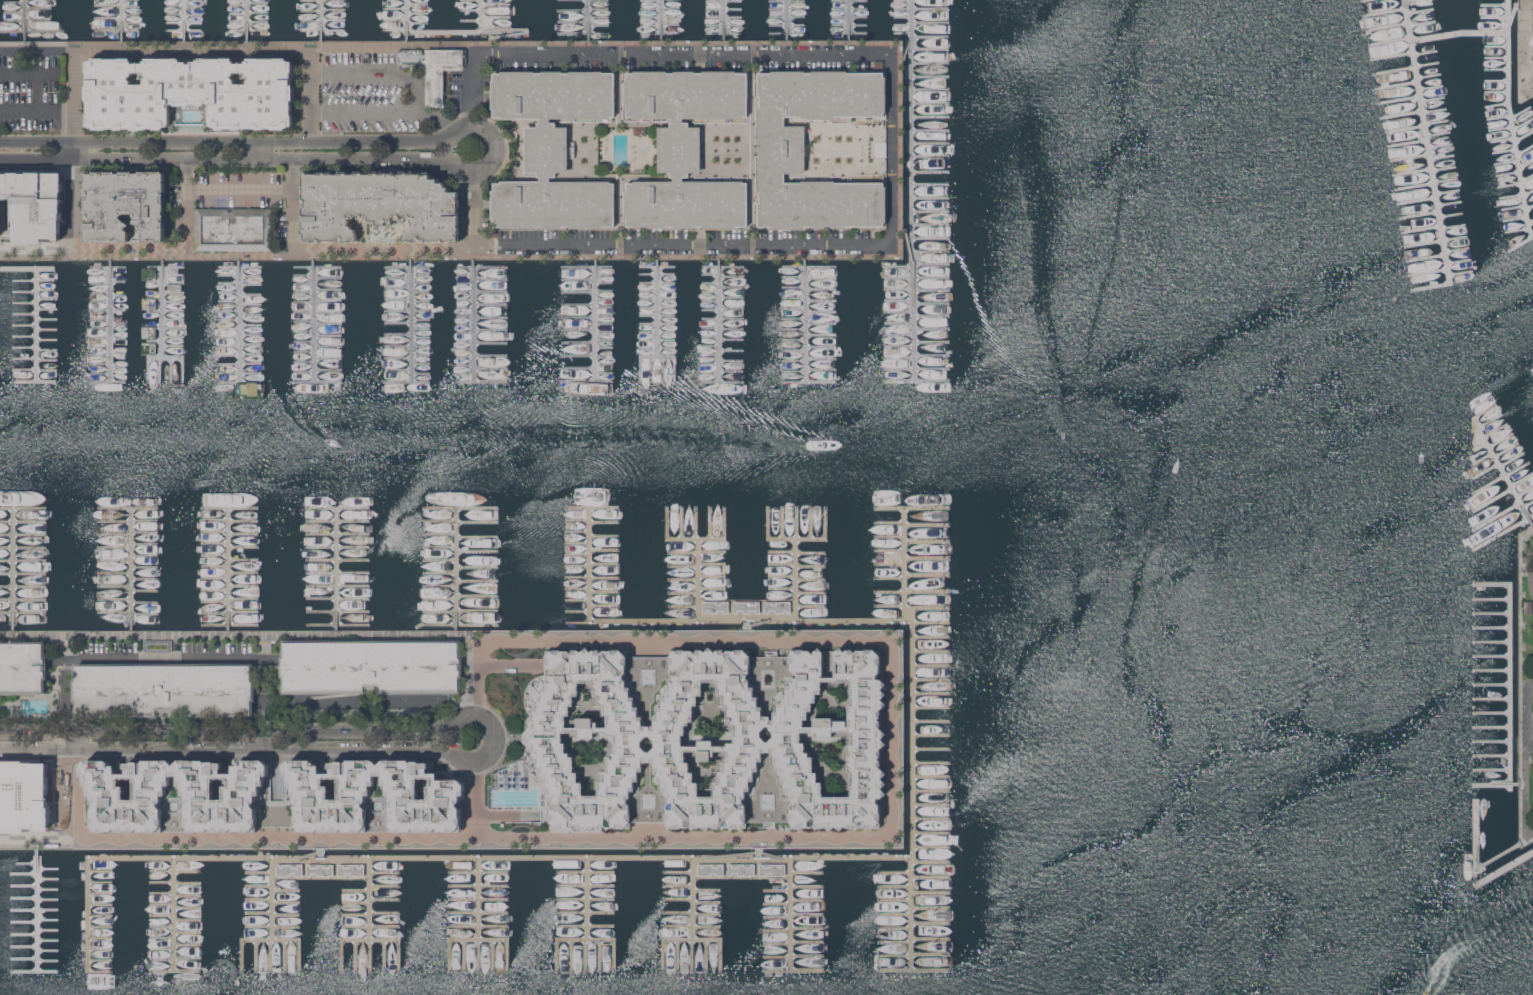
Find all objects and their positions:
pier: (1493, 4)
pier: (1419, 10)
pier: (1384, 12)
pier: (1511, 13)
pier: (1493, 17)
pier: (23, 19)
pier: (119, 19)
pier: (183, 19)
pier: (405, 19)
pier: (586, 19)
pier: (659, 19)
pier: (721, 19)
pier: (784, 19)
pier: (847, 19)
pier: (246, 20)
pier: (320, 20)
pier: (1421, 21)
pier: (1386, 26)
pier: (503, 28)
pier: (909, 30)
road: (1531, 32)
pier: (1438, 36)
building: (1532, 37)
pier: (1389, 40)
road: (775, 42)
pier: (1485, 43)
pier: (1484, 56)
road: (1517, 59)
pier: (1499, 61)
pier: (1484, 67)
building: (434, 68)
road: (26, 72)
road: (364, 72)
pier: (1484, 78)
road: (475, 89)
parking lot: (32, 90)
road: (36, 90)
building: (190, 91)
pier: (1484, 91)
road: (310, 107)
road: (37, 109)
road: (364, 112)
road: (425, 114)
building: (640, 130)
road: (74, 139)
road: (226, 142)
road: (496, 146)
road: (654, 146)
building: (552, 148)
road: (589, 148)
building: (685, 148)
building: (782, 149)
road: (889, 149)
road: (227, 161)
pier: (1509, 168)
pier: (1433, 185)
road: (236, 199)
building: (125, 204)
building: (30, 205)
building: (378, 205)
road: (478, 207)
building: (234, 229)
road: (37, 248)
road: (265, 248)
pier: (17, 268)
pier: (912, 304)
pier: (656, 305)
pier: (161, 307)
pier: (804, 318)
pier: (718, 319)
pier: (110, 320)
pier: (237, 320)
pier: (312, 320)
pier: (410, 320)
pier: (473, 320)
pier: (595, 320)
pier: (37, 325)
pier: (1489, 420)
pier: (1494, 429)
pier: (1500, 438)
pier: (1505, 449)
pier: (1482, 457)
pier: (1511, 458)
pier: (1496, 460)
pier: (1516, 468)
pier: (1485, 470)
pier: (1522, 478)
pier: (1488, 482)
pier: (1524, 489)
pier: (1491, 498)
pier: (1527, 503)
pier: (1495, 514)
pier: (1502, 532)
pier: (227, 567)
pier: (12, 568)
pier: (130, 568)
pier: (455, 568)
pier: (335, 569)
pier: (794, 578)
pier: (697, 579)
pier: (1493, 599)
building: (715, 606)
building: (745, 606)
building: (776, 606)
building: (1527, 606)
pier: (1493, 613)
pier: (745, 616)
pier: (759, 620)
pier: (1493, 627)
road: (245, 634)
pier: (1493, 642)
building: (158, 645)
pier: (1493, 656)
road: (513, 665)
building: (371, 666)
building: (23, 667)
pier: (1493, 670)
pier: (1493, 684)
pier: (1511, 685)
park: (1526, 687)
building: (164, 689)
pier: (1493, 698)
road: (386, 699)
road: (1527, 708)
pier: (1493, 712)
road: (471, 713)
pier: (1493, 727)
road: (223, 731)
building: (771, 739)
road: (76, 740)
road: (252, 740)
pier: (1493, 741)
road: (93, 749)
road: (219, 749)
road: (350, 749)
pier: (1493, 756)
road: (482, 759)
pier: (1493, 769)
pier: (1514, 784)
road: (1526, 785)
pier: (909, 788)
building: (175, 795)
building: (373, 796)
building: (33, 799)
road: (474, 800)
road: (780, 839)
road: (756, 842)
road: (725, 855)
road: (773, 855)
pier: (850, 856)
pier: (1475, 856)
pier: (492, 857)
pier: (599, 857)
pier: (382, 858)
pier: (741, 858)
pier: (174, 865)
pier: (1504, 867)
building: (290, 868)
building: (321, 868)
building: (351, 868)
building: (709, 868)
building: (740, 868)
building: (771, 868)
pier: (88, 871)
pier: (270, 871)
pier: (693, 899)
pier: (36, 908)
pier: (788, 911)

